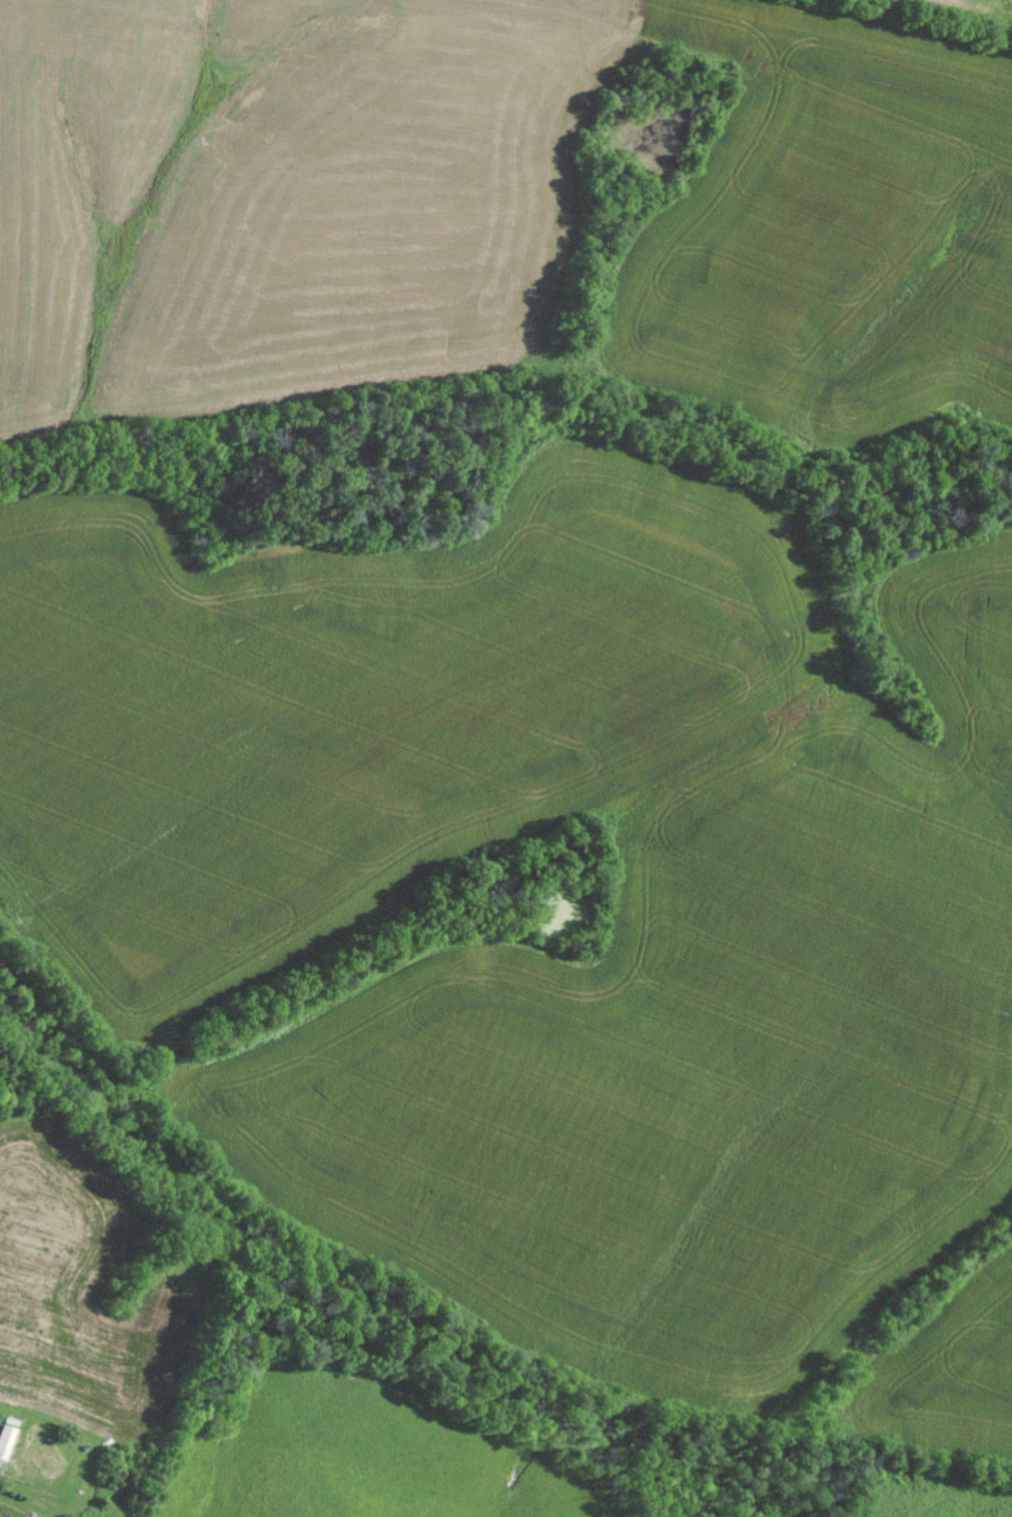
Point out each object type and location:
building: (16, 1421)
building: (9, 1442)
road: (2, 1514)

